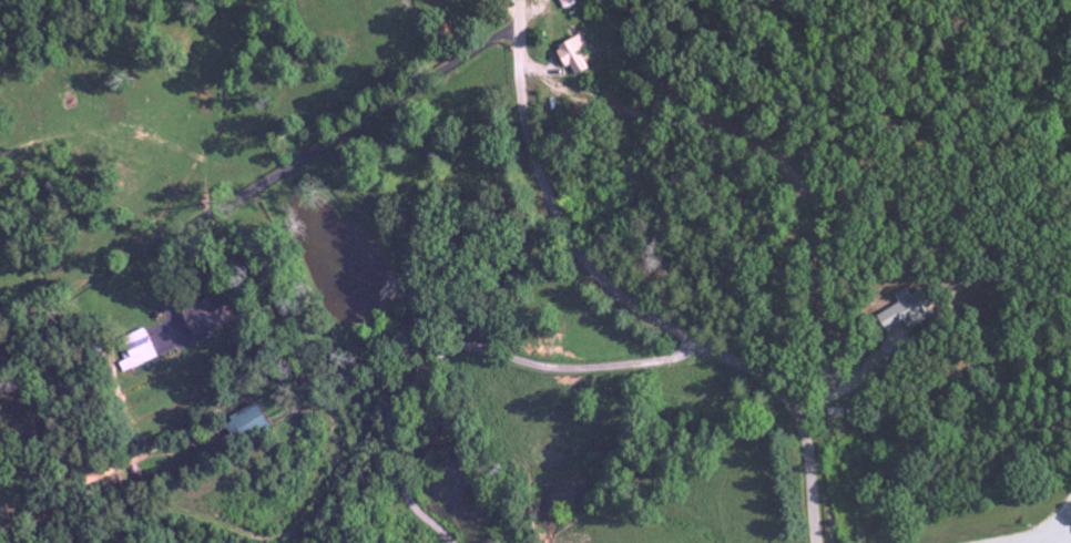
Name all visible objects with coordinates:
building: (568, 3)
building: (573, 54)
road: (299, 157)
road: (626, 304)
building: (906, 313)
building: (204, 315)
road: (452, 348)
building: (137, 351)
road: (843, 388)
building: (245, 423)
road: (1041, 530)

